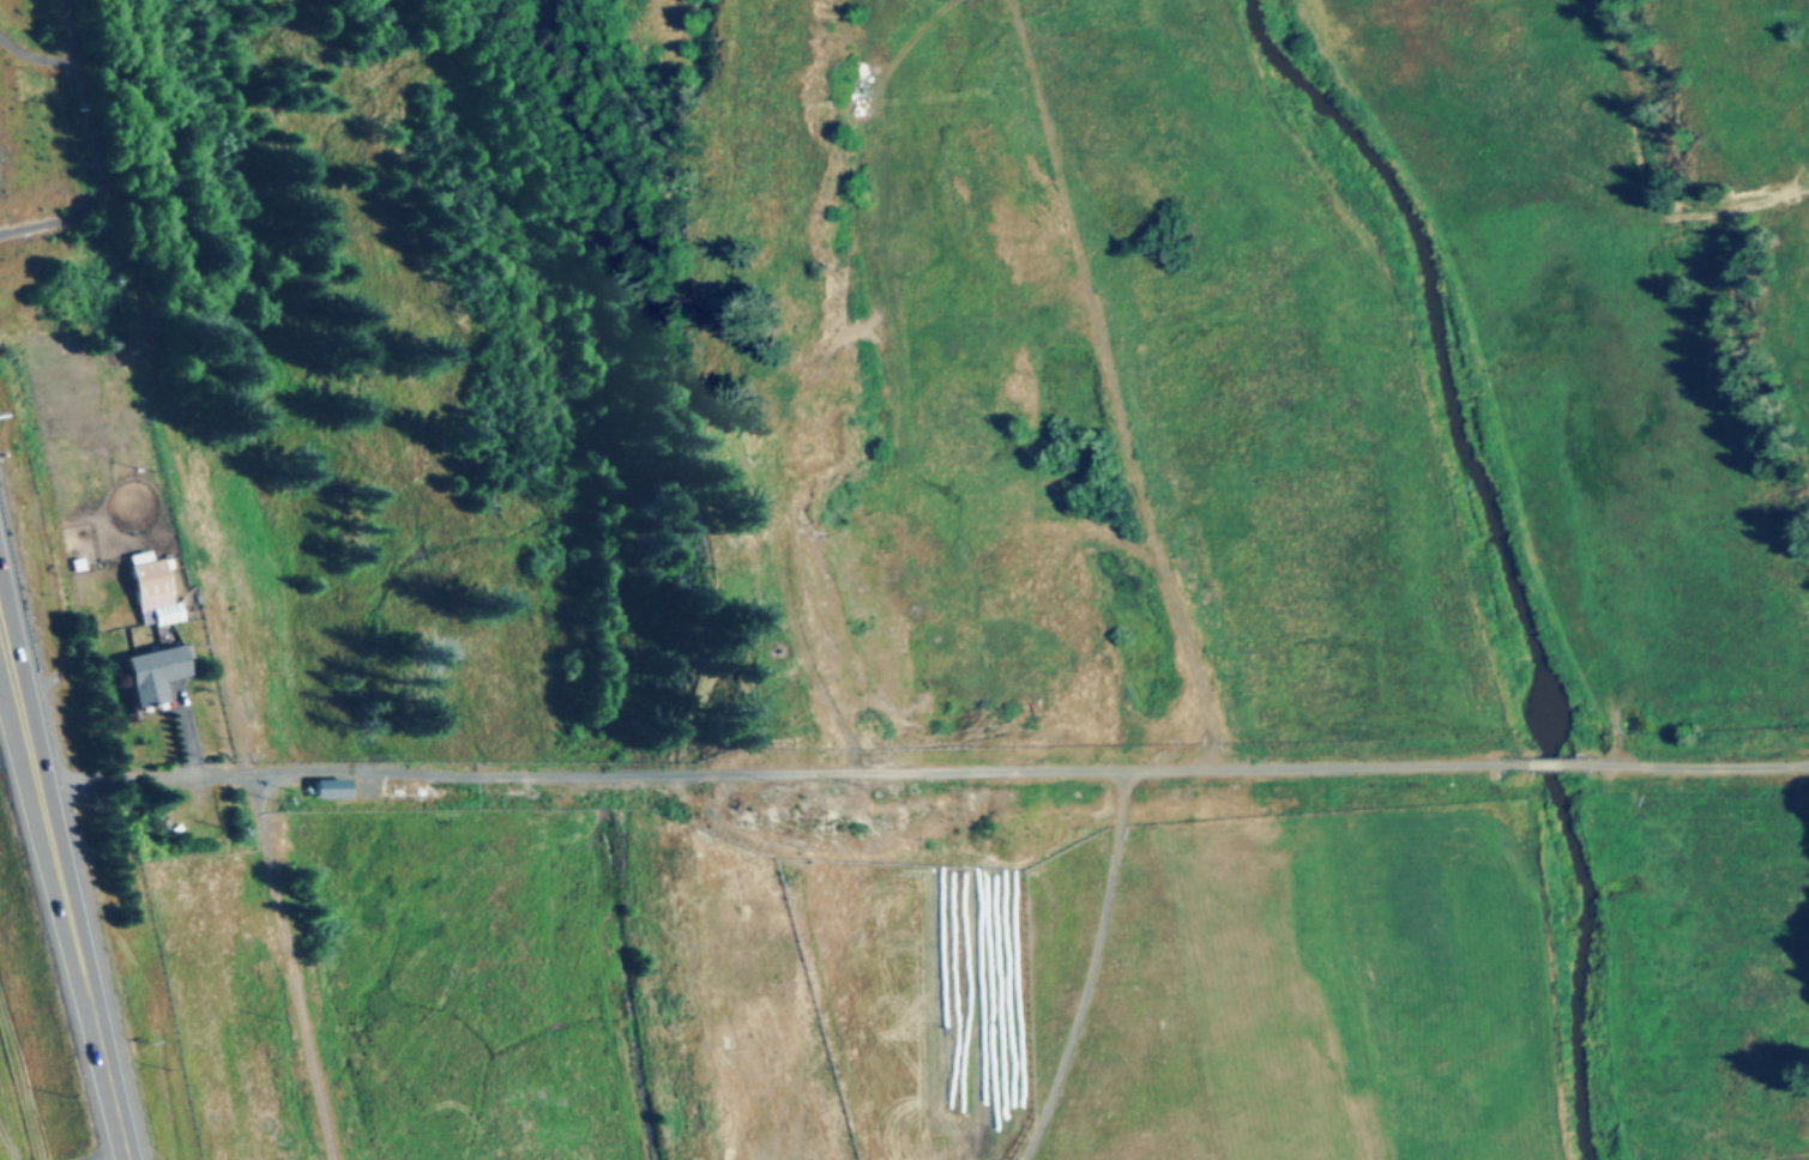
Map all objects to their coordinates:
park: (225, 1)
road: (42, 59)
road: (110, 158)
river: (1507, 549)
building: (150, 579)
railway: (197, 580)
building: (169, 615)
road: (1, 645)
building: (152, 676)
road: (923, 774)
road: (62, 895)
road: (1098, 971)

